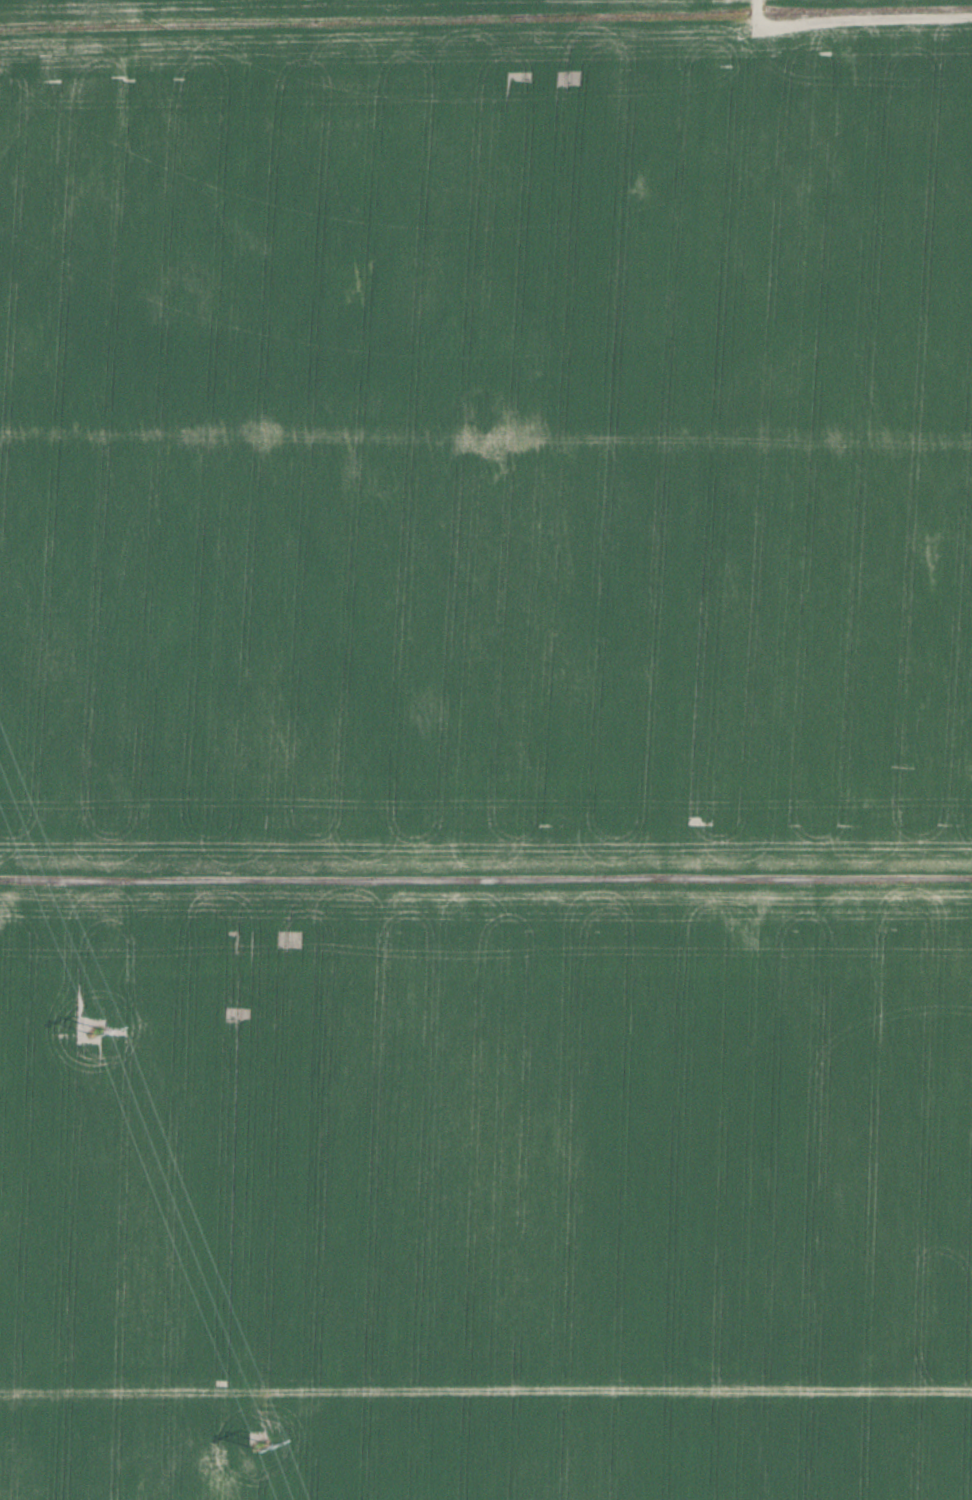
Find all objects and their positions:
power tower: (96, 1028)
power tower: (259, 1442)

